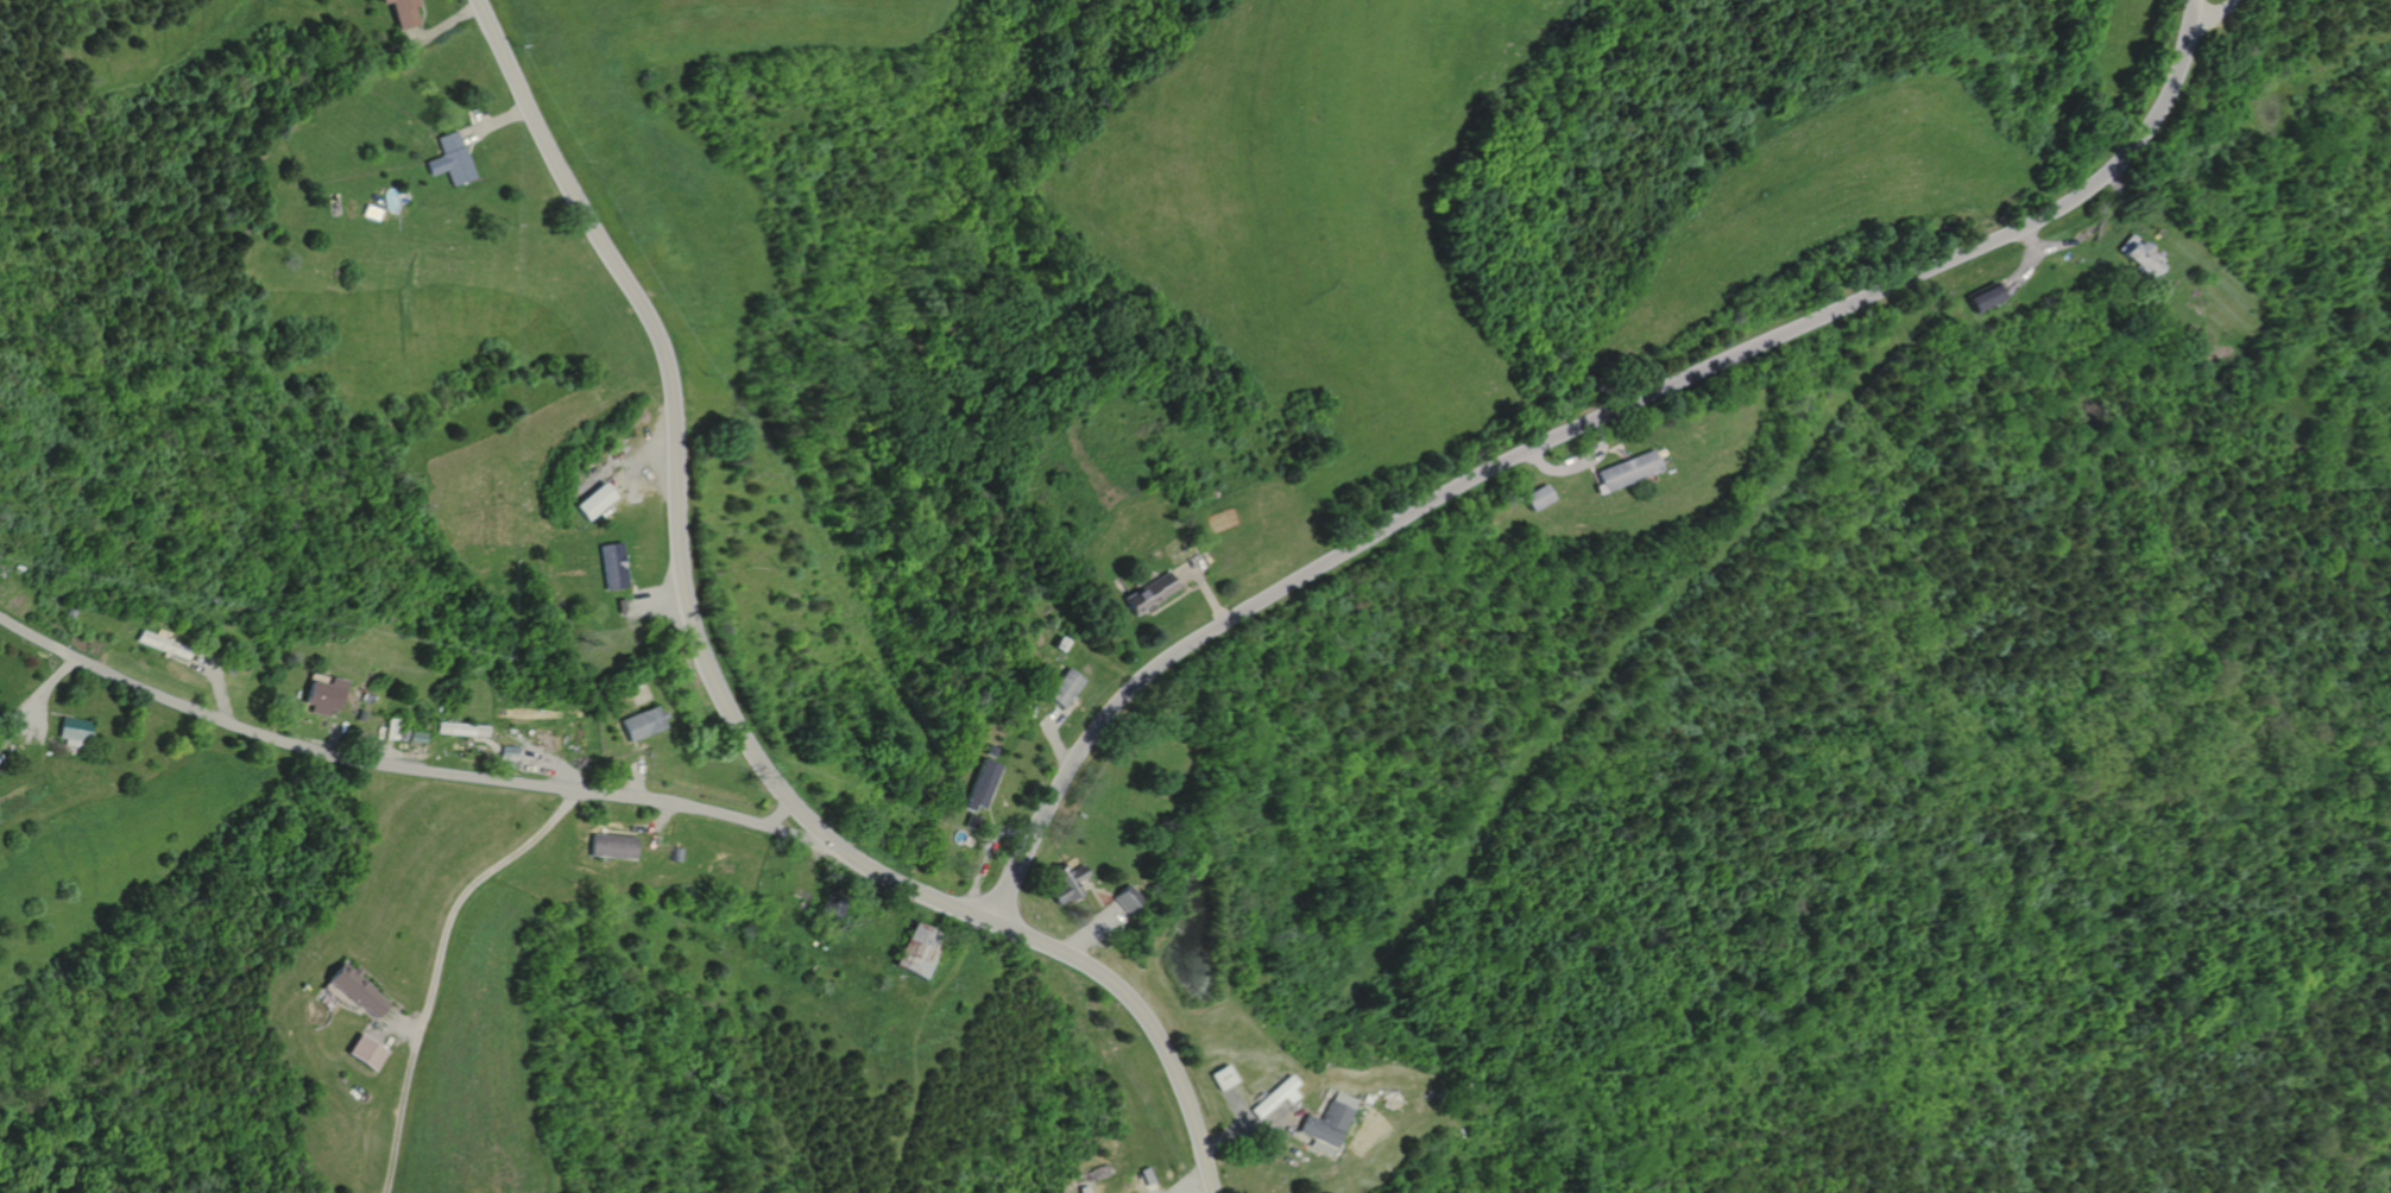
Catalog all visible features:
building: (408, 12)
road: (2214, 15)
road: (424, 20)
road: (434, 32)
road: (411, 34)
road: (477, 120)
road: (493, 122)
road: (469, 144)
building: (452, 159)
building: (374, 213)
road: (2050, 246)
building: (2139, 255)
road: (2026, 271)
building: (1987, 296)
building: (2202, 341)
road: (1576, 427)
road: (1619, 447)
road: (1614, 450)
building: (1661, 453)
road: (641, 463)
road: (610, 465)
road: (1578, 466)
building: (1629, 472)
building: (1541, 498)
building: (594, 501)
building: (614, 567)
road: (1182, 581)
road: (1200, 586)
building: (1150, 595)
road: (1174, 598)
road: (658, 601)
building: (623, 606)
building: (68, 614)
building: (159, 644)
building: (1064, 644)
road: (176, 659)
building: (228, 670)
building: (632, 682)
road: (217, 687)
building: (1068, 689)
road: (718, 690)
road: (38, 694)
building: (323, 696)
building: (366, 699)
building: (360, 715)
road: (18, 724)
building: (645, 724)
building: (427, 725)
building: (391, 730)
building: (462, 730)
building: (74, 732)
building: (402, 734)
building: (417, 737)
road: (334, 738)
road: (1054, 744)
building: (993, 752)
building: (510, 753)
road: (551, 765)
road: (412, 769)
road: (636, 778)
building: (984, 785)
road: (991, 800)
road: (775, 815)
building: (973, 822)
road: (661, 825)
road: (622, 831)
road: (655, 838)
building: (616, 847)
road: (985, 851)
building: (679, 854)
building: (1067, 882)
road: (1100, 891)
building: (1127, 897)
road: (461, 898)
road: (1094, 898)
building: (834, 901)
building: (826, 928)
road: (1093, 930)
building: (920, 948)
building: (359, 989)
road: (383, 990)
road: (403, 1022)
road: (386, 1028)
building: (371, 1050)
building: (1220, 1077)
building: (1275, 1096)
road: (1236, 1105)
road: (400, 1122)
building: (1326, 1122)
road: (1245, 1125)
building: (1148, 1176)
road: (1198, 1185)
road: (1153, 1188)
building: (1087, 1189)

